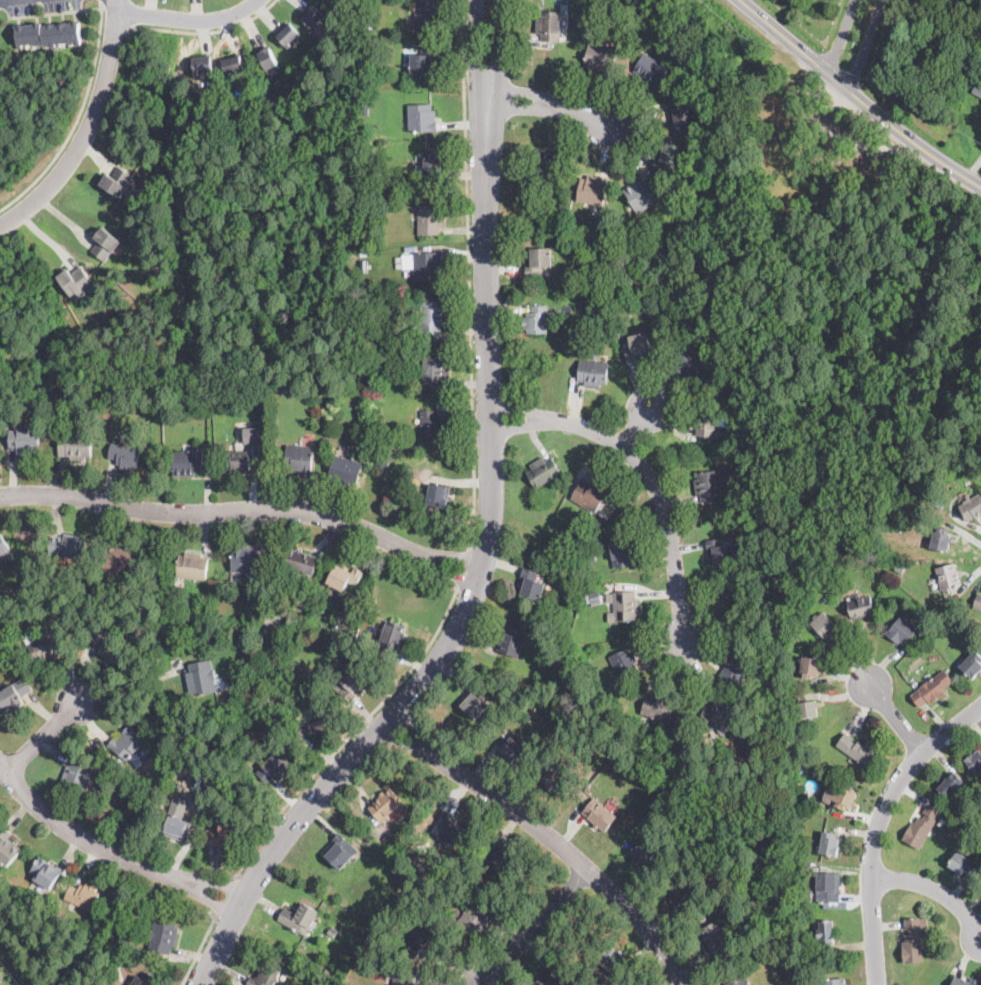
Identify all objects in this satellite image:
road: (101, 1)
road: (115, 5)
building: (583, 10)
road: (55, 11)
building: (426, 14)
building: (312, 16)
road: (187, 18)
building: (549, 25)
road: (115, 30)
road: (202, 30)
building: (367, 31)
building: (49, 34)
building: (288, 35)
road: (851, 40)
building: (366, 43)
road: (500, 52)
road: (475, 53)
building: (600, 57)
building: (268, 59)
building: (424, 61)
building: (201, 64)
building: (233, 64)
building: (650, 69)
building: (977, 87)
road: (857, 96)
building: (365, 101)
road: (548, 106)
building: (680, 111)
building: (421, 117)
road: (76, 119)
road: (85, 132)
building: (737, 147)
building: (367, 154)
building: (670, 156)
building: (432, 161)
building: (545, 162)
building: (117, 179)
building: (592, 189)
building: (641, 195)
building: (698, 211)
building: (430, 219)
building: (599, 222)
building: (654, 233)
road: (46, 236)
building: (106, 242)
building: (363, 254)
building: (695, 254)
building: (538, 260)
building: (427, 265)
road: (468, 273)
building: (75, 280)
building: (552, 292)
building: (144, 298)
building: (625, 301)
building: (432, 315)
building: (536, 319)
building: (383, 330)
building: (637, 345)
building: (389, 349)
building: (687, 360)
building: (434, 370)
building: (593, 372)
building: (212, 382)
building: (287, 382)
building: (8, 388)
building: (254, 389)
building: (287, 389)
building: (38, 392)
building: (706, 421)
building: (366, 425)
building: (431, 425)
building: (382, 433)
building: (251, 434)
building: (25, 440)
building: (75, 445)
building: (125, 455)
building: (299, 458)
building: (239, 460)
building: (187, 462)
building: (383, 462)
building: (344, 470)
building: (542, 471)
road: (644, 474)
building: (707, 485)
building: (589, 494)
building: (437, 495)
building: (743, 504)
building: (971, 506)
road: (244, 512)
building: (559, 536)
building: (940, 539)
building: (3, 544)
building: (67, 546)
building: (620, 551)
building: (720, 552)
building: (117, 560)
building: (246, 560)
building: (300, 561)
building: (192, 565)
road: (463, 566)
building: (899, 567)
building: (345, 576)
building: (948, 576)
building: (531, 584)
road: (473, 588)
building: (20, 592)
building: (138, 592)
building: (595, 596)
building: (964, 599)
building: (370, 600)
building: (978, 602)
building: (625, 605)
building: (859, 607)
building: (189, 614)
building: (115, 621)
building: (825, 626)
building: (901, 630)
building: (295, 635)
building: (392, 637)
building: (511, 639)
building: (95, 640)
building: (45, 647)
building: (922, 647)
building: (112, 650)
building: (624, 663)
building: (970, 664)
building: (809, 666)
building: (737, 667)
building: (201, 678)
building: (351, 682)
road: (130, 684)
building: (932, 688)
building: (14, 694)
building: (265, 696)
building: (474, 701)
building: (226, 704)
building: (659, 707)
building: (808, 709)
building: (763, 712)
building: (716, 714)
road: (893, 714)
building: (309, 725)
road: (348, 734)
road: (43, 735)
building: (129, 742)
building: (512, 749)
building: (172, 750)
building: (860, 751)
building: (975, 762)
building: (274, 766)
building: (77, 776)
building: (551, 777)
building: (951, 784)
building: (844, 797)
building: (615, 800)
building: (812, 801)
building: (385, 804)
building: (599, 815)
building: (941, 822)
road: (876, 824)
building: (175, 826)
building: (922, 826)
building: (450, 829)
building: (224, 832)
road: (551, 838)
building: (389, 840)
building: (828, 844)
building: (6, 847)
road: (108, 850)
building: (339, 851)
building: (647, 855)
building: (497, 860)
building: (964, 864)
building: (46, 873)
building: (828, 886)
road: (931, 888)
building: (683, 894)
building: (83, 895)
road: (223, 897)
building: (769, 907)
building: (299, 916)
building: (475, 917)
road: (536, 928)
building: (332, 930)
building: (826, 932)
building: (163, 935)
building: (417, 936)
building: (715, 937)
building: (913, 940)
road: (199, 946)
building: (37, 949)
building: (941, 952)
building: (610, 959)
building: (265, 975)
building: (403, 978)
building: (553, 978)
building: (144, 979)
building: (737, 979)
building: (835, 981)
building: (964, 981)

